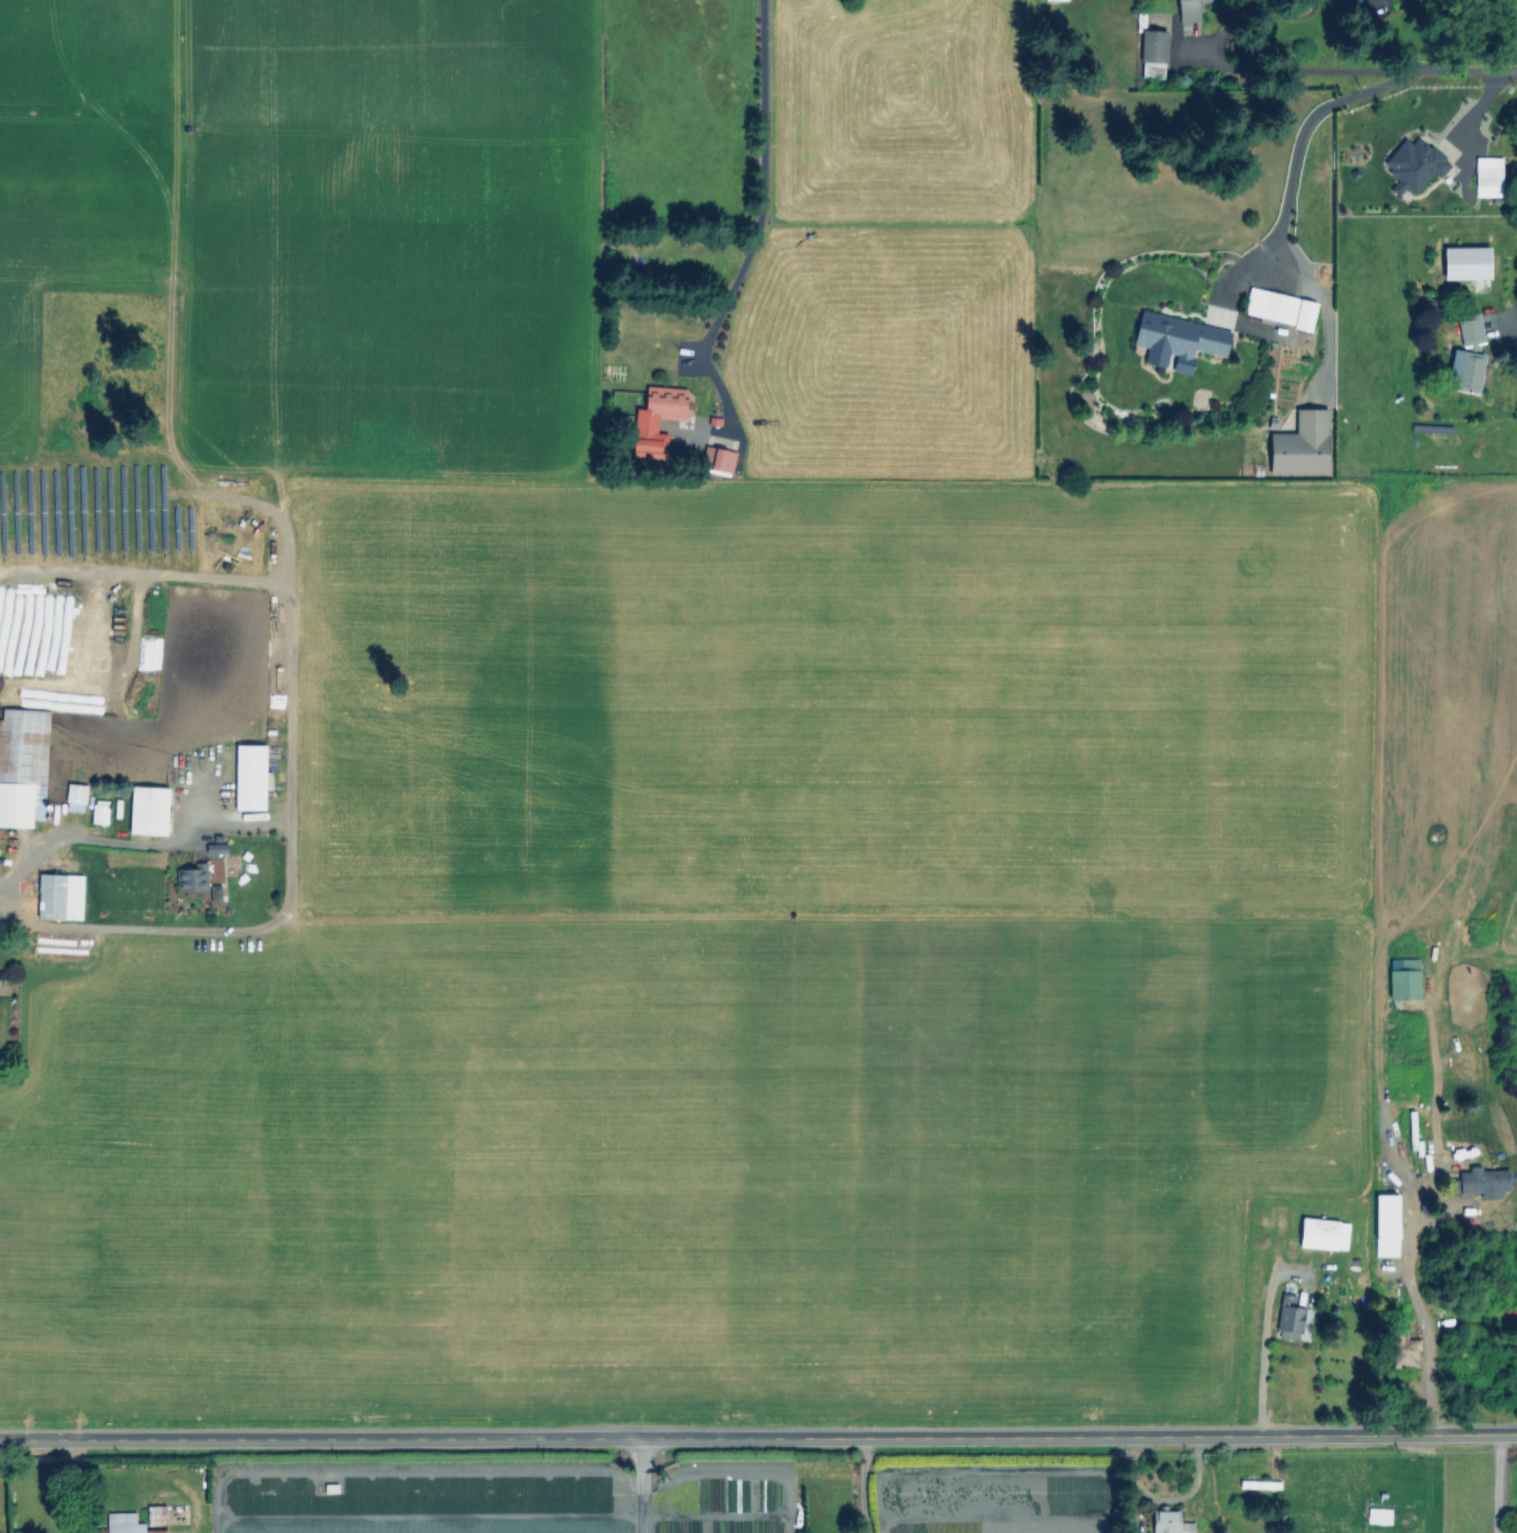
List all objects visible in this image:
building: (1191, 10)
building: (1153, 50)
road: (1365, 71)
road: (1516, 123)
building: (1491, 178)
road: (763, 184)
road: (1279, 207)
road: (1514, 295)
building: (1430, 303)
building: (1275, 307)
building: (1179, 339)
building: (1470, 363)
building: (667, 403)
building: (721, 459)
road: (285, 553)
crop: (627, 740)
building: (22, 765)
building: (250, 776)
building: (75, 797)
building: (148, 810)
building: (99, 811)
road: (70, 843)
building: (192, 877)
building: (59, 895)
building: (1406, 1066)
building: (1326, 1234)
road: (1417, 1310)
building: (1292, 1316)
building: (1405, 1347)
road: (1261, 1365)
road: (758, 1434)
road: (1496, 1482)
road: (860, 1483)
road: (641, 1484)
road: (67, 1485)
building: (1260, 1486)
building: (159, 1516)
building: (1172, 1523)
building: (128, 1524)

